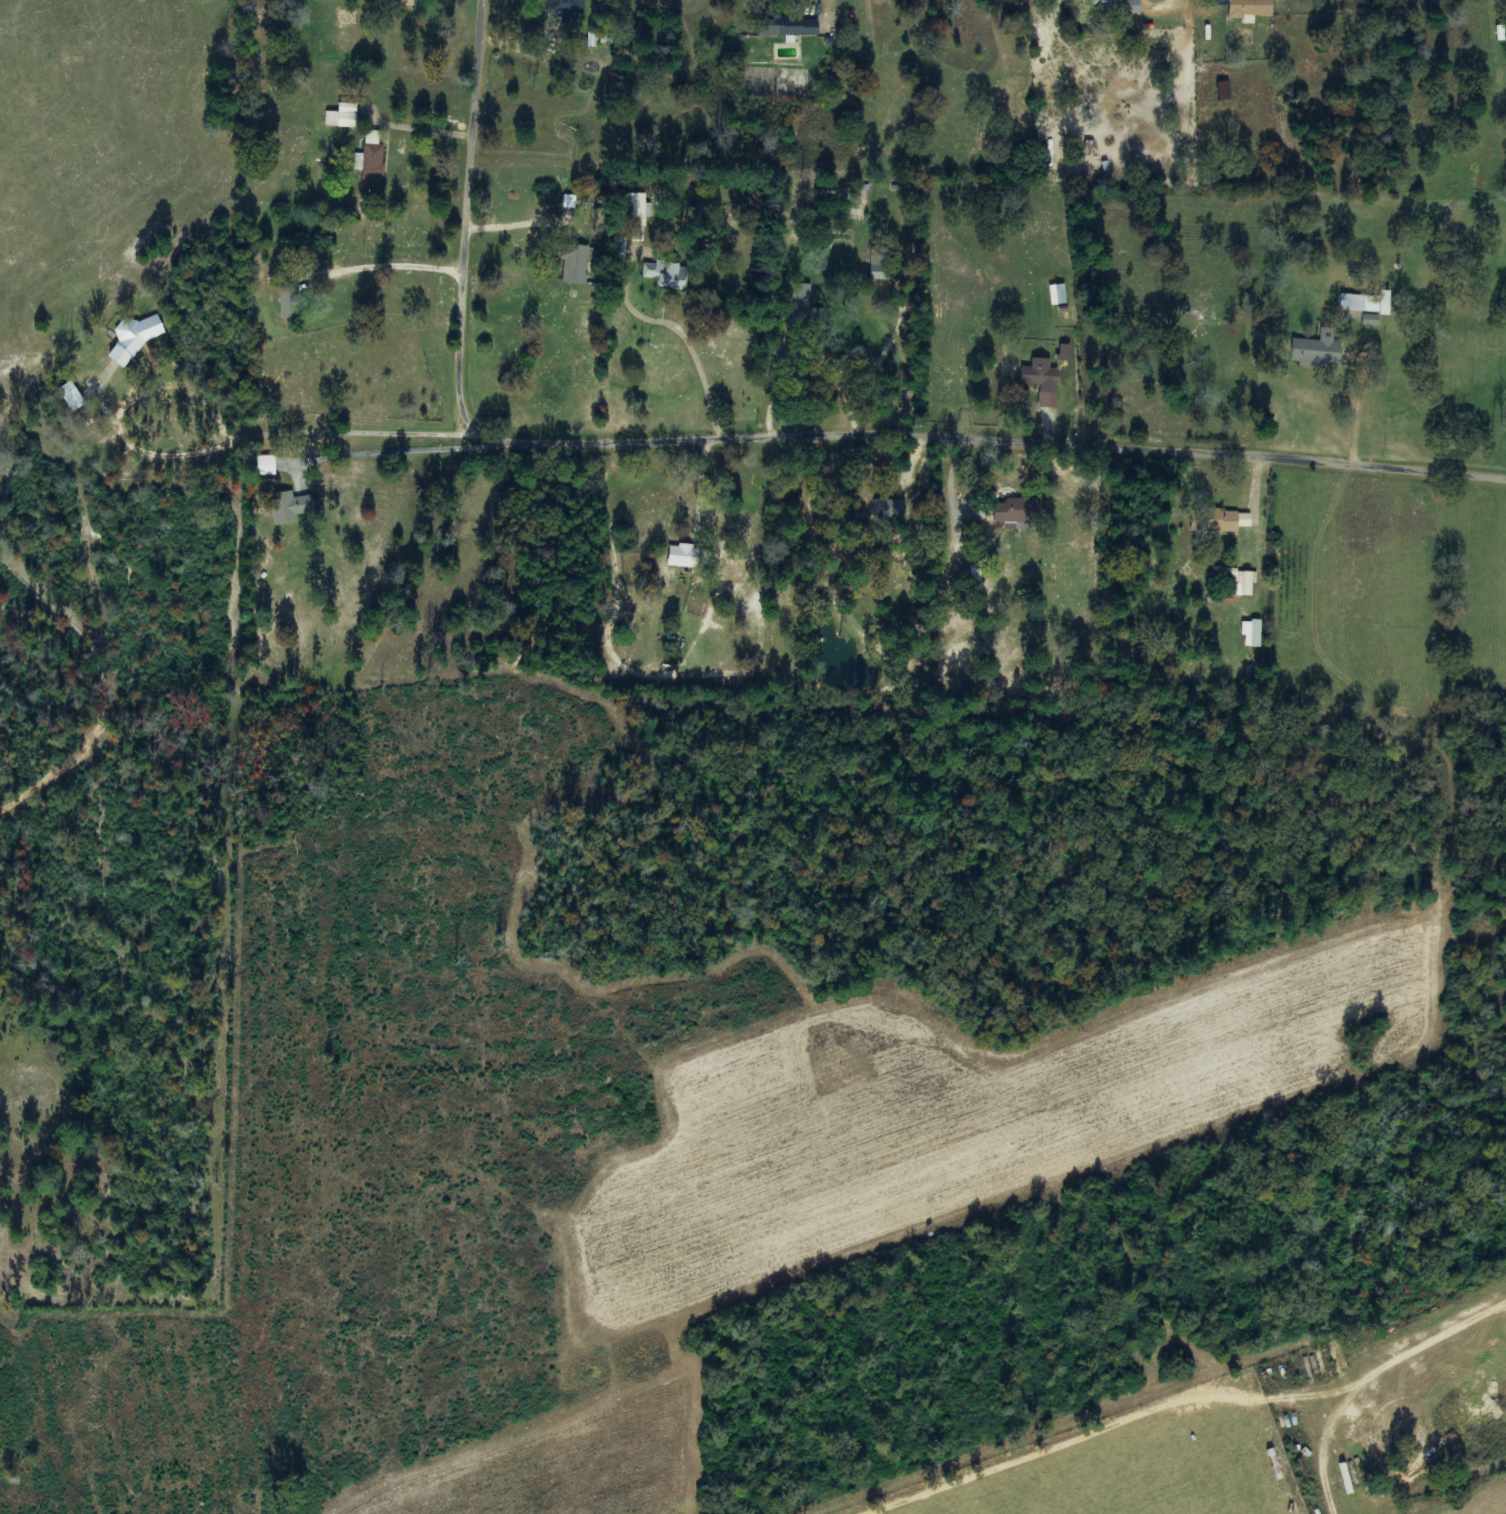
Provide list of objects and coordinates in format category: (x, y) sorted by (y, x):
building: (1105, 1)
building: (403, 2)
building: (1249, 8)
building: (566, 10)
building: (788, 26)
building: (1224, 90)
building: (341, 116)
building: (370, 162)
building: (569, 201)
building: (637, 216)
building: (618, 249)
building: (571, 261)
building: (881, 267)
building: (666, 273)
road: (241, 275)
building: (1057, 294)
building: (288, 301)
building: (1359, 303)
building: (1384, 303)
building: (803, 307)
building: (1370, 319)
building: (1318, 349)
building: (1064, 352)
building: (1041, 381)
building: (70, 396)
road: (813, 396)
road: (277, 431)
building: (265, 465)
building: (283, 508)
building: (889, 508)
building: (1013, 514)
building: (1214, 521)
building: (683, 556)
building: (974, 577)
building: (1237, 579)
building: (1252, 633)

